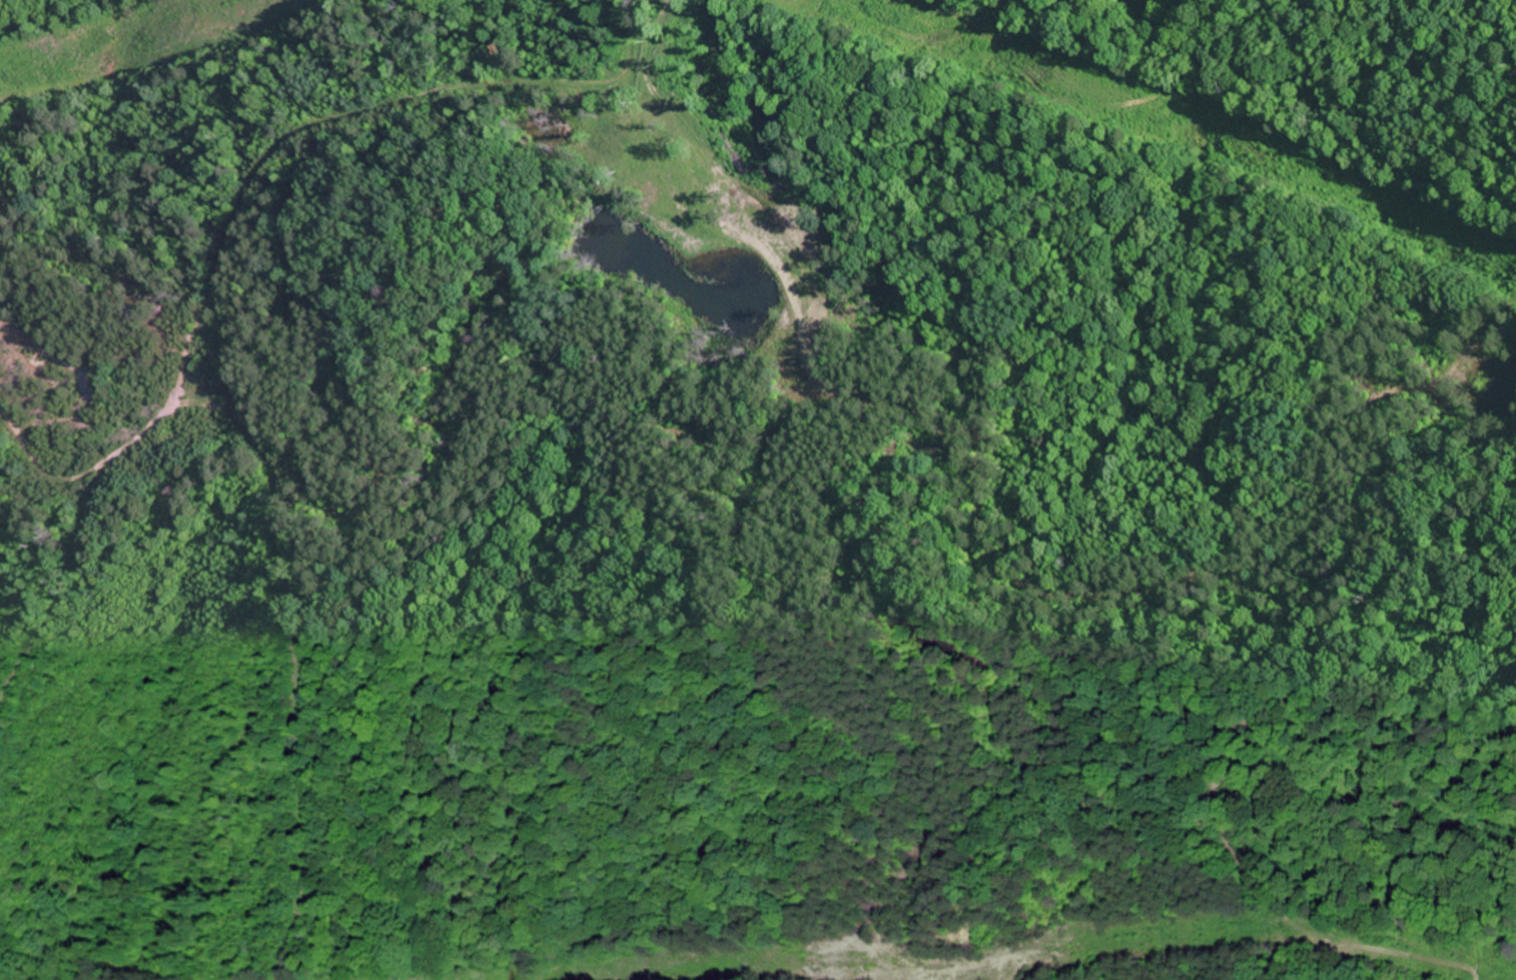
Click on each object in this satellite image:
road: (1442, 578)

